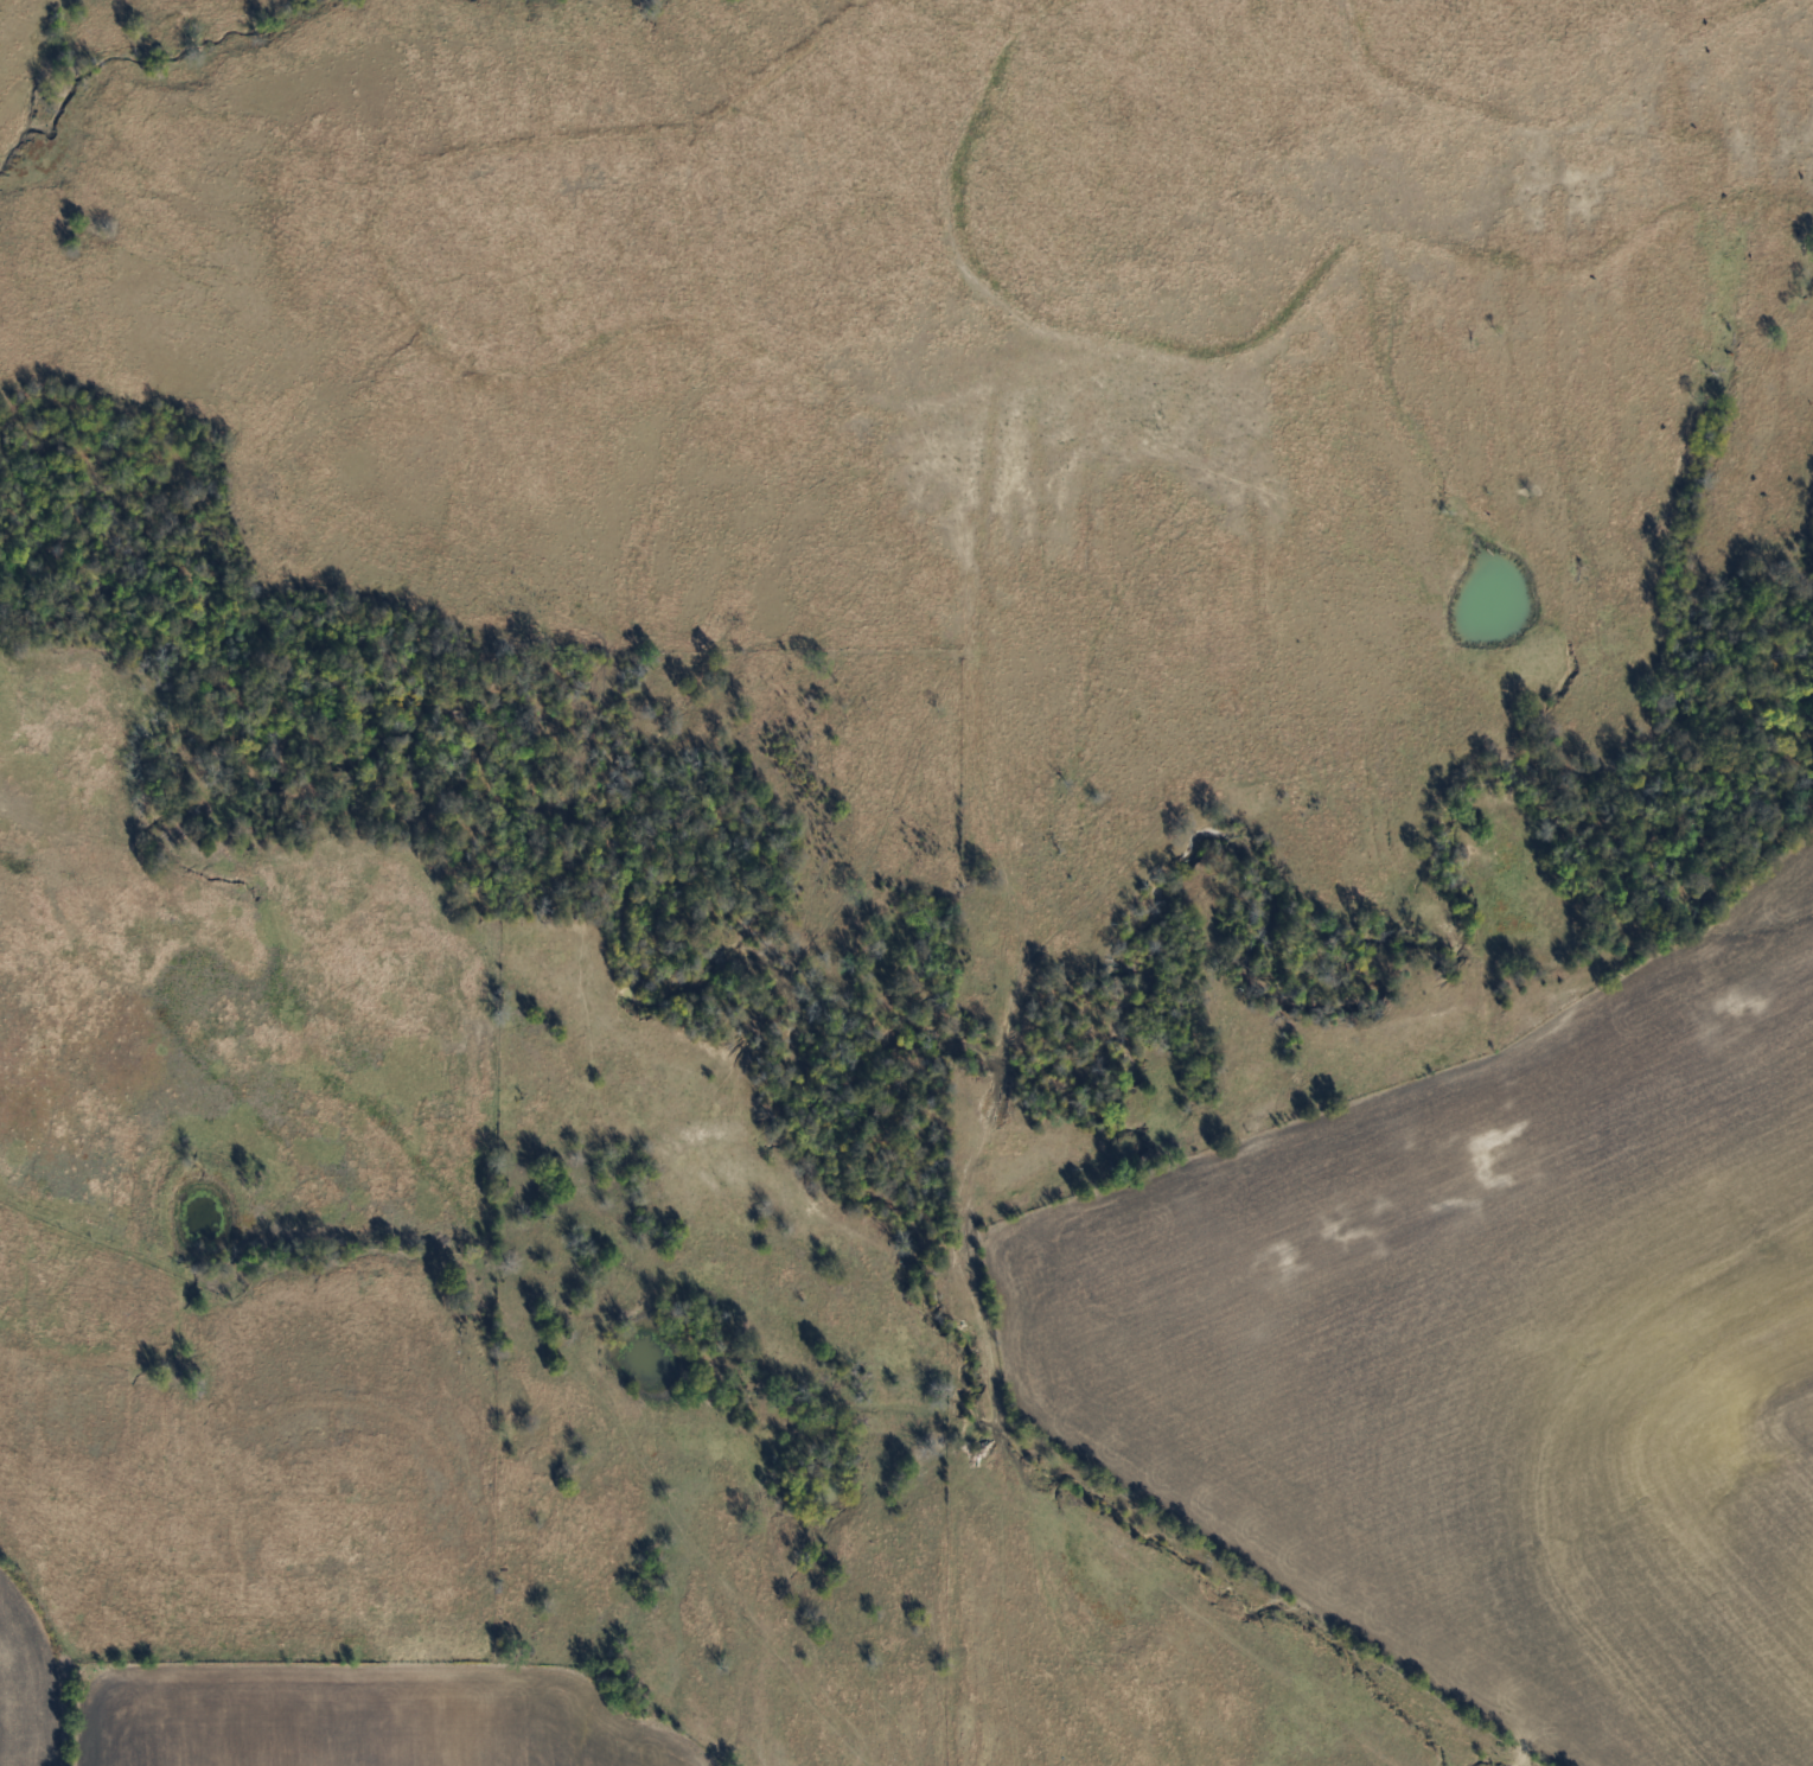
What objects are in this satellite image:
crop: (1494, 1351)

